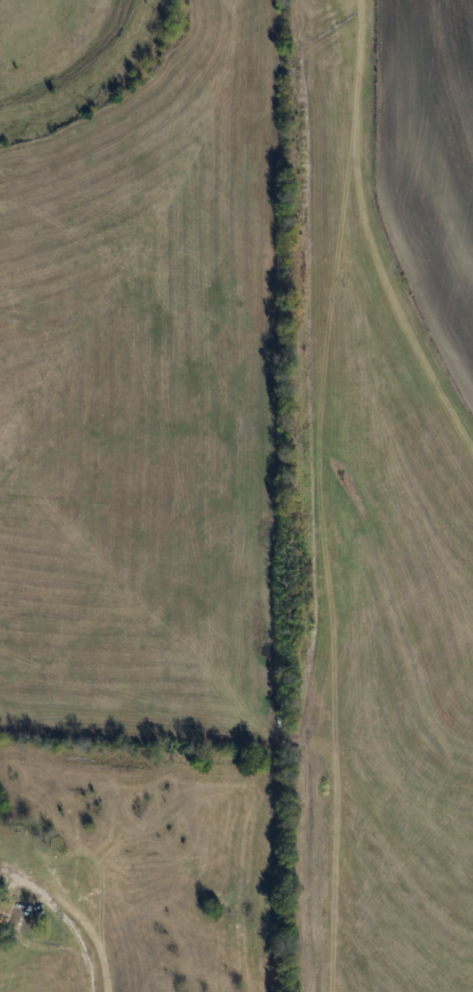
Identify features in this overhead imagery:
building: (6, 912)
road: (64, 924)

